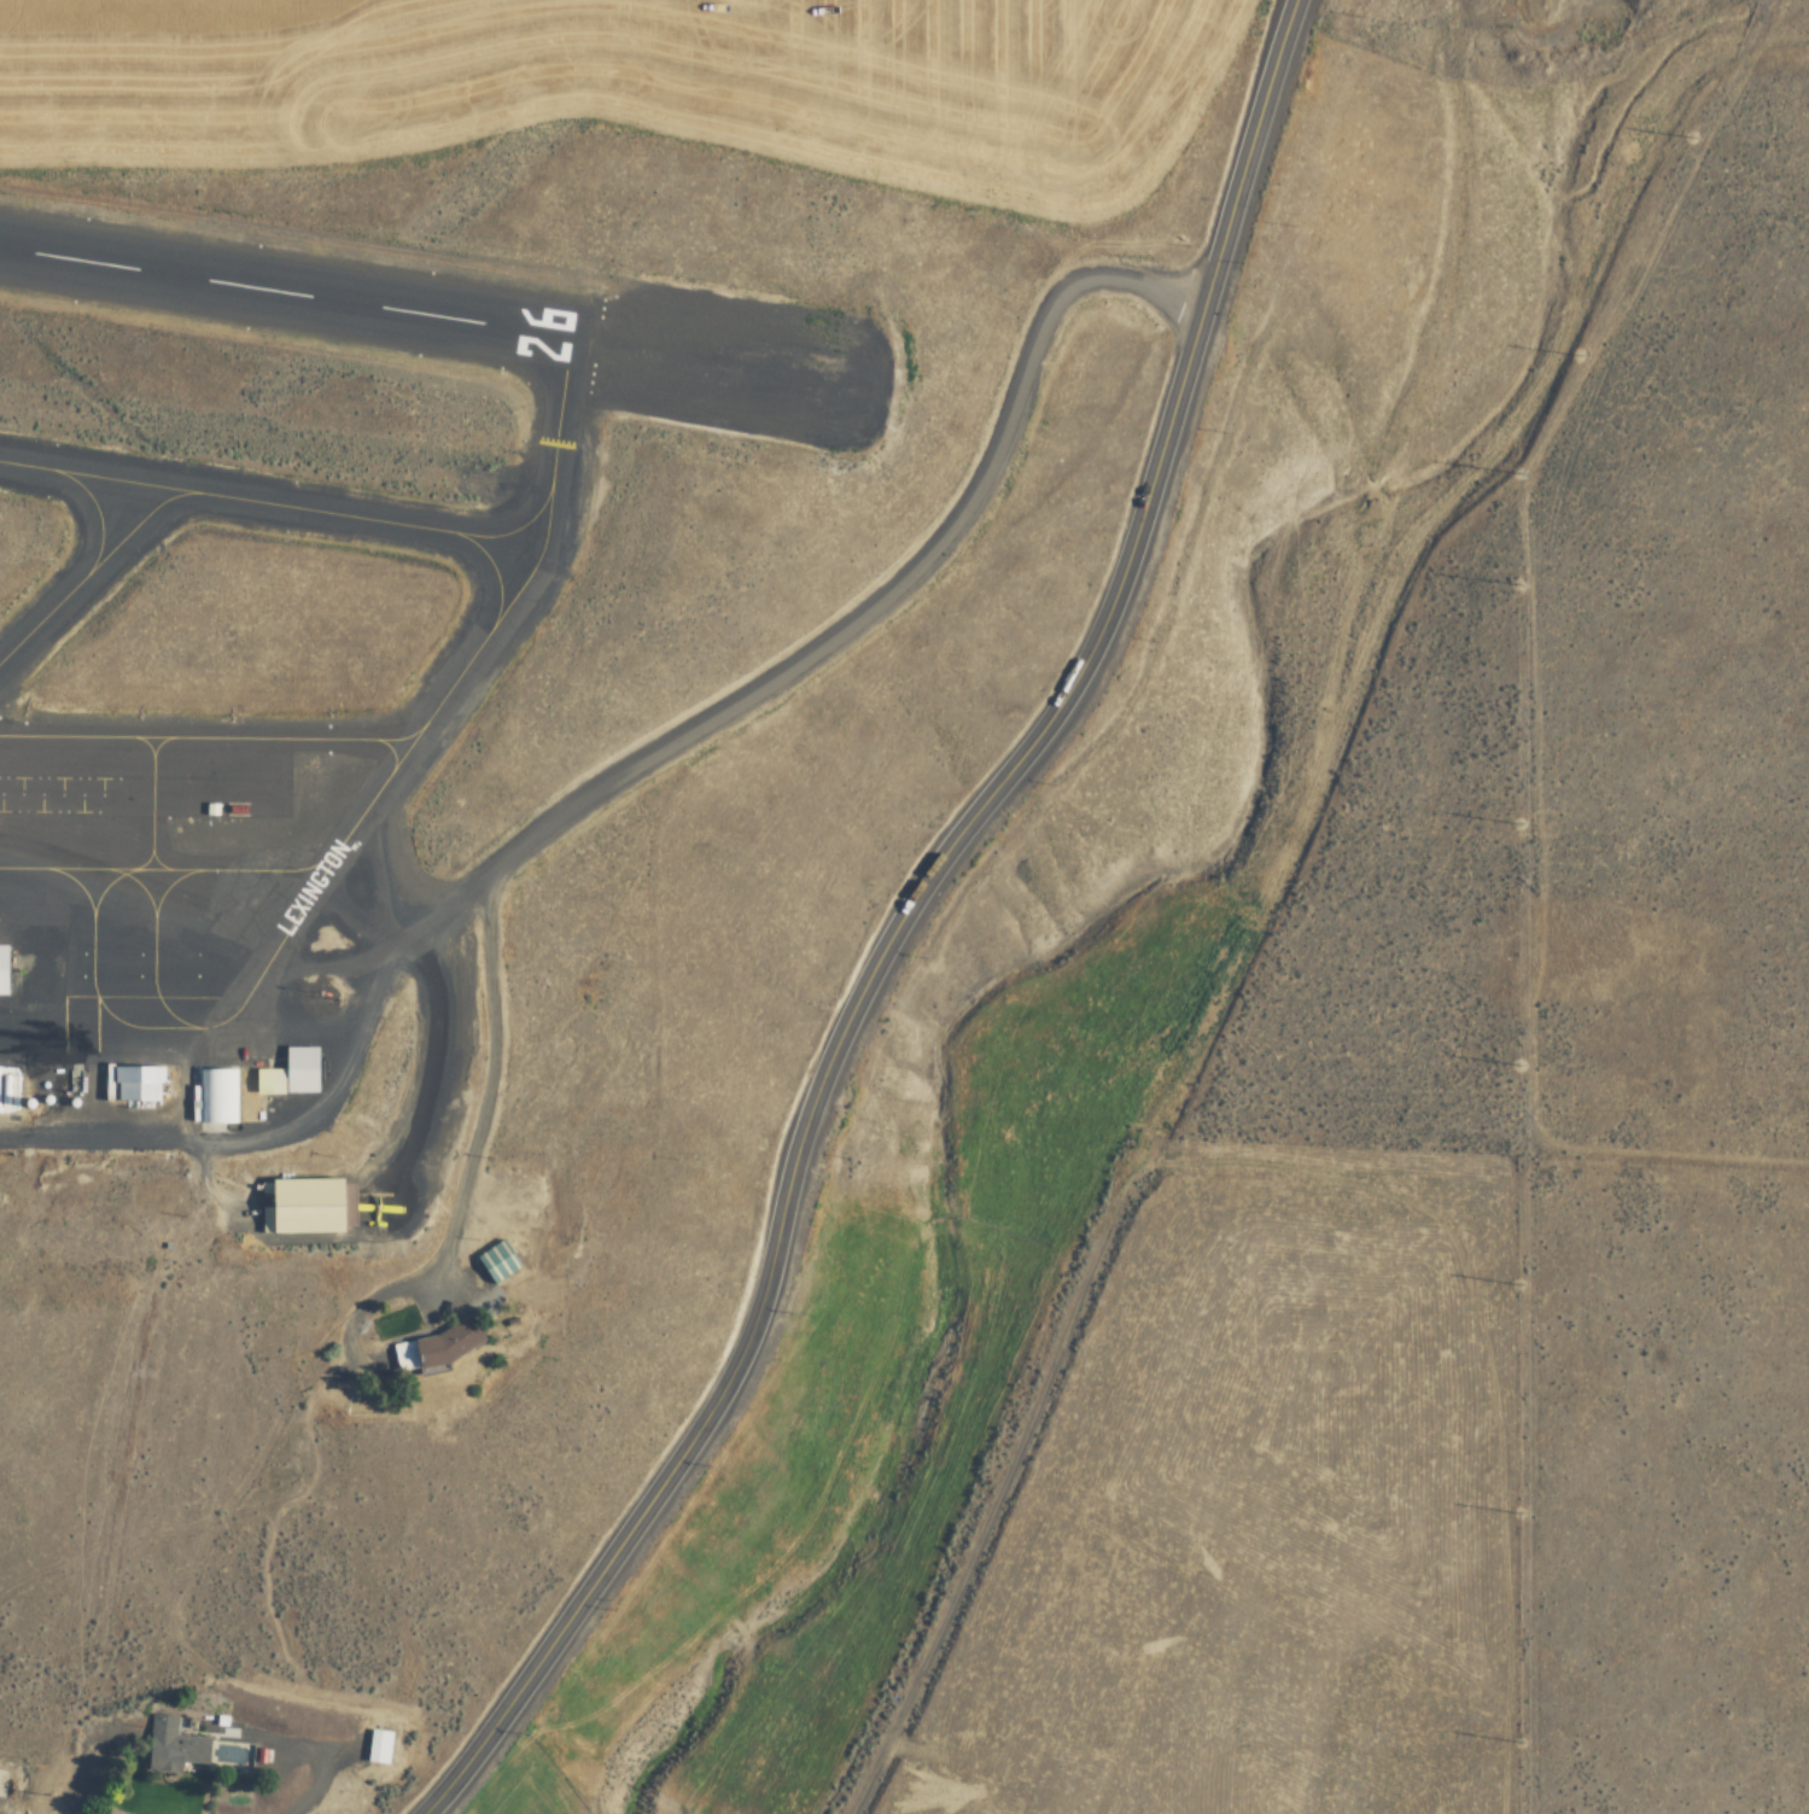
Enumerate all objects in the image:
airport runway: (379, 308)
airport taxiway: (276, 509)
airport taxiway: (93, 514)
airport taxiway: (130, 525)
airport taxiway: (514, 530)
airport taxiway: (42, 614)
airport taxiway: (399, 747)
road: (634, 763)
airport taxiway: (123, 909)
road: (897, 925)
airport hangar: (2, 970)
building: (2, 970)
building: (293, 1074)
road: (482, 1095)
building: (142, 1096)
building: (216, 1096)
road: (202, 1106)
building: (303, 1206)
building: (497, 1262)
building: (437, 1348)
building: (377, 1746)
building: (174, 1748)

